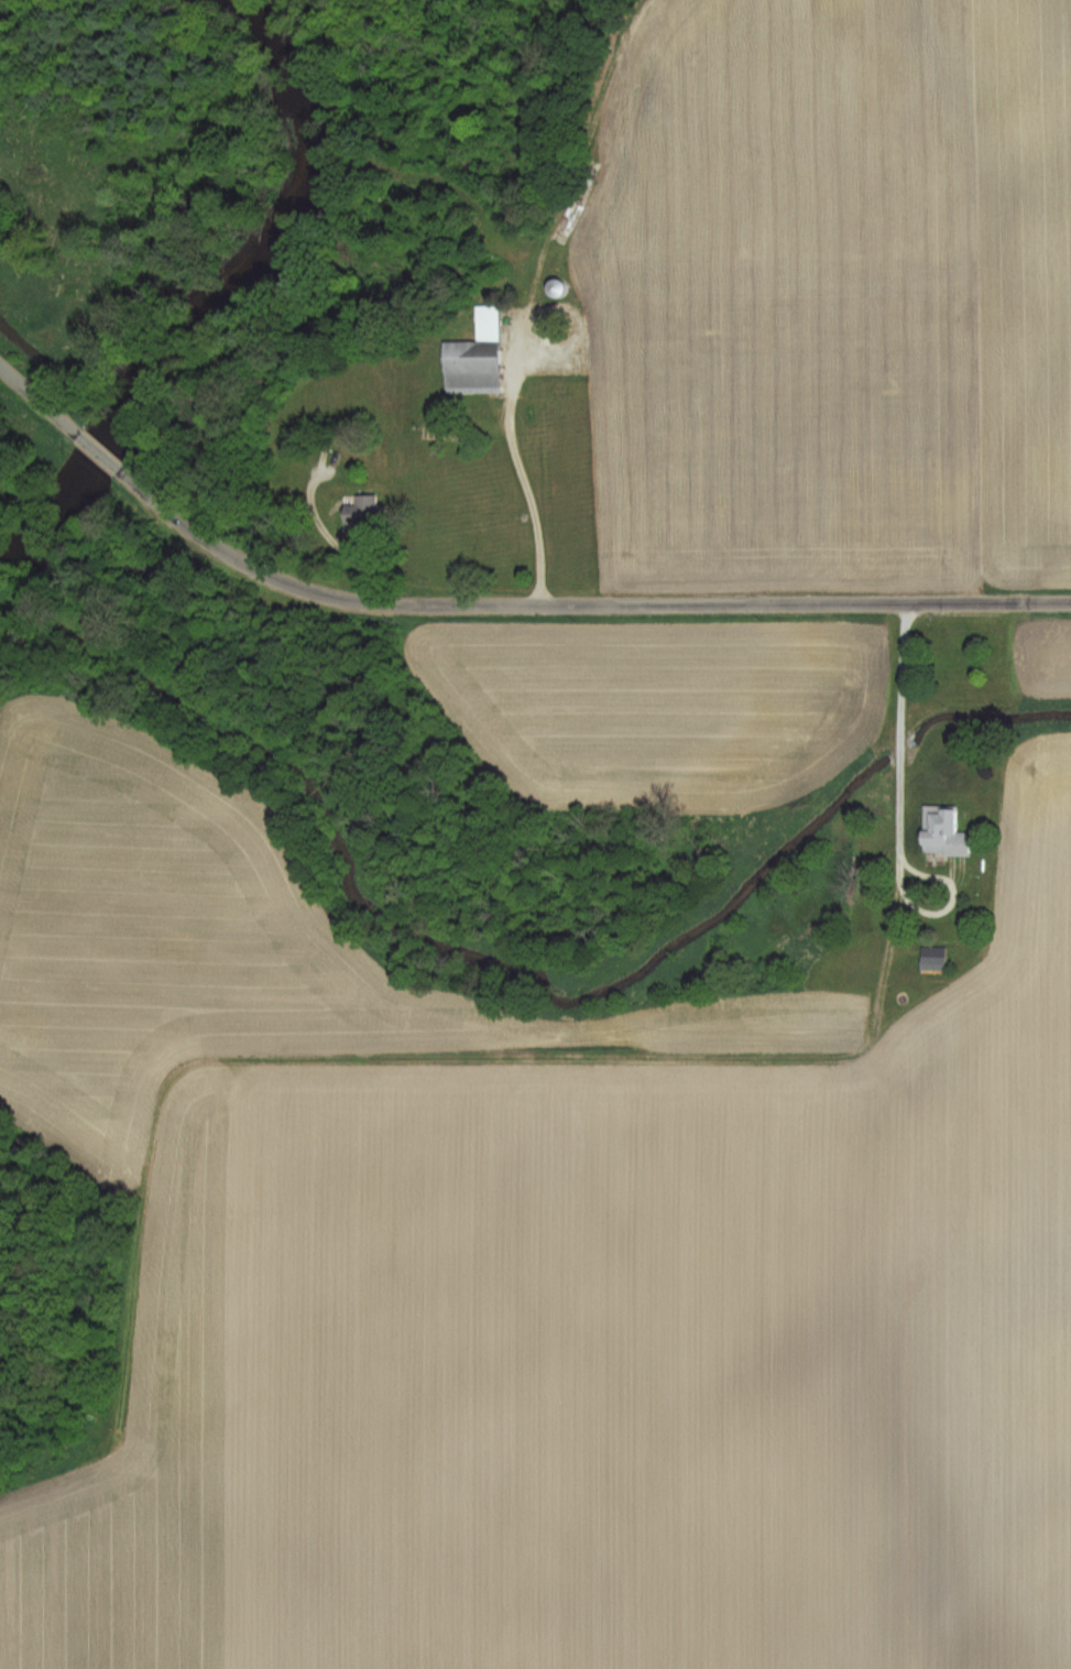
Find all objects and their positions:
building: (551, 286)
river: (228, 288)
road: (549, 347)
building: (472, 357)
road: (40, 392)
road: (515, 438)
road: (102, 448)
building: (359, 510)
road: (545, 597)
road: (577, 600)
road: (906, 603)
road: (903, 754)
building: (940, 832)

